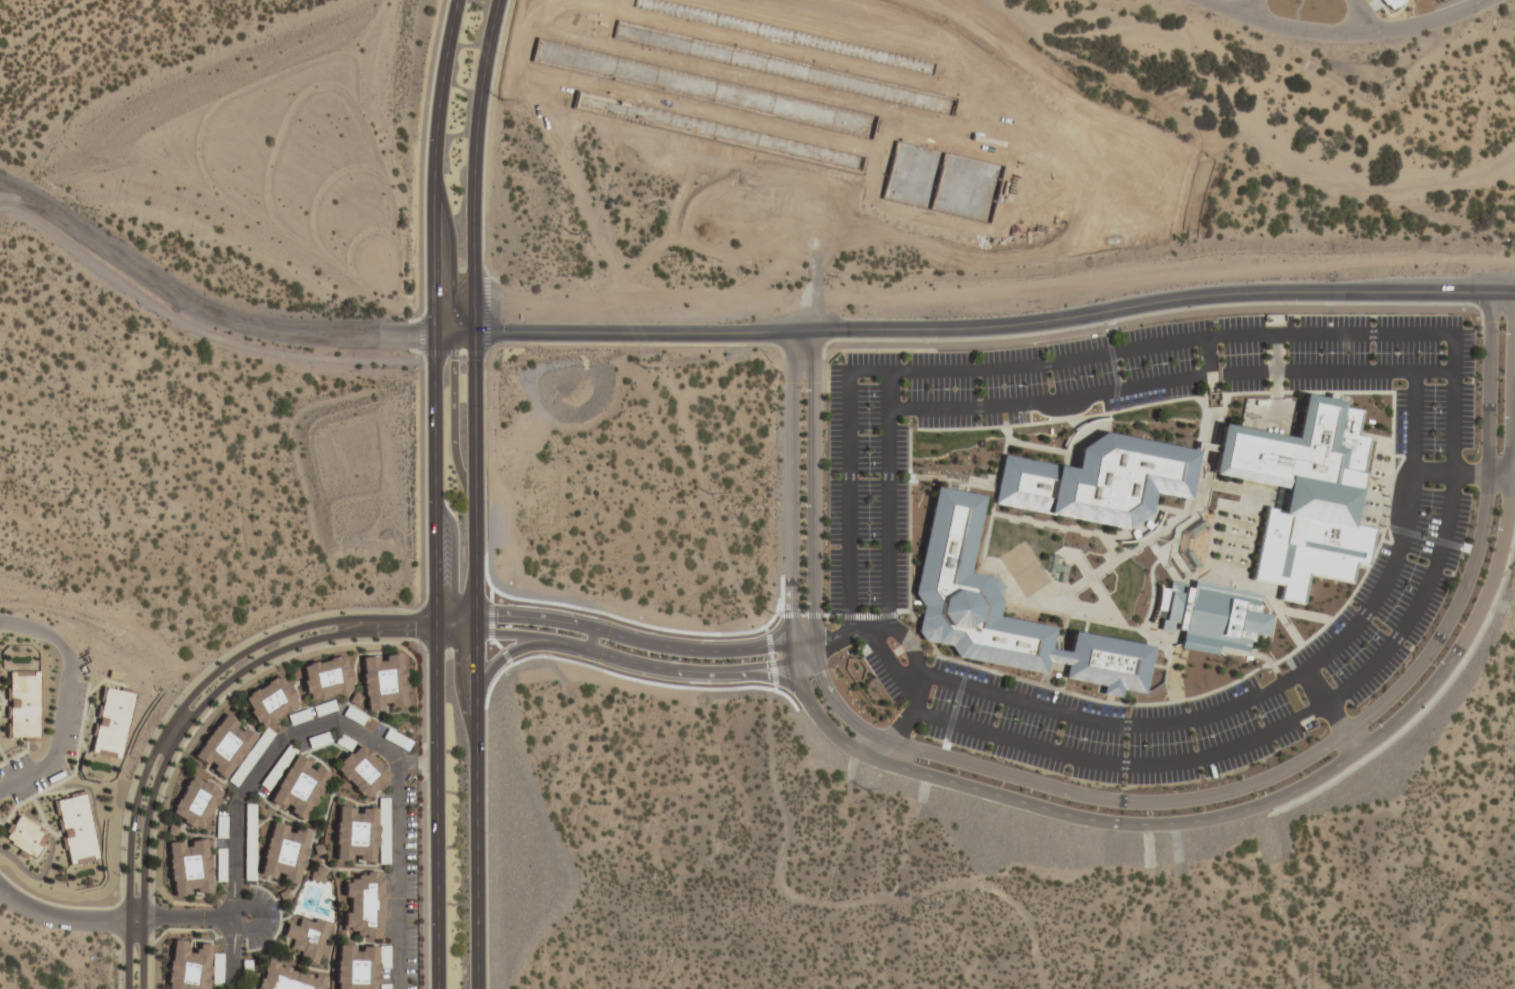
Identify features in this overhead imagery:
building: (1391, 3)
road: (1244, 8)
road: (1360, 16)
road: (1343, 34)
power tower: (499, 99)
road: (438, 168)
road: (478, 168)
power tower: (569, 234)
road: (1501, 293)
road: (210, 312)
road: (984, 326)
road: (458, 338)
power tower: (638, 367)
building: (1098, 482)
power tower: (707, 493)
building: (1303, 494)
building: (958, 587)
power tower: (770, 613)
building: (1212, 617)
road: (643, 631)
road: (841, 638)
road: (501, 648)
road: (632, 654)
road: (434, 663)
road: (475, 663)
building: (325, 677)
road: (225, 681)
building: (382, 681)
road: (190, 696)
road: (56, 700)
building: (269, 700)
building: (21, 704)
building: (111, 721)
building: (222, 745)
building: (250, 757)
road: (413, 761)
road: (250, 770)
building: (362, 771)
building: (299, 787)
power tower: (862, 788)
road: (1141, 801)
building: (195, 802)
road: (1141, 823)
building: (220, 825)
building: (75, 828)
building: (360, 835)
building: (24, 837)
building: (284, 853)
building: (220, 864)
building: (188, 867)
building: (318, 873)
road: (391, 875)
power tower: (924, 903)
building: (364, 904)
road: (241, 907)
road: (61, 913)
road: (135, 916)
road: (188, 916)
building: (308, 940)
road: (141, 952)
road: (228, 963)
building: (186, 965)
building: (359, 965)
building: (245, 968)
building: (287, 978)
building: (384, 987)

